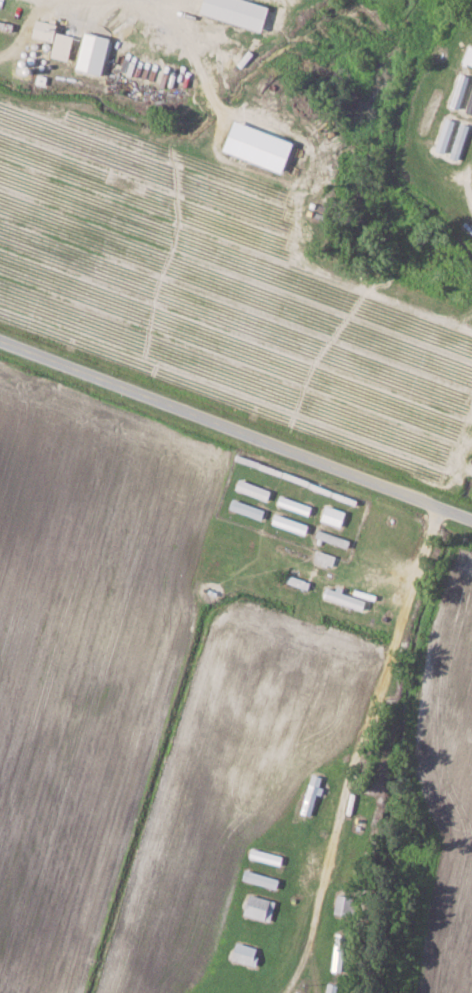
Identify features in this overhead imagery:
building: (239, 12)
building: (47, 31)
building: (64, 47)
building: (95, 54)
building: (261, 147)
road: (236, 426)
building: (335, 517)
building: (326, 559)
building: (262, 879)
building: (346, 904)
building: (262, 907)
building: (247, 953)

